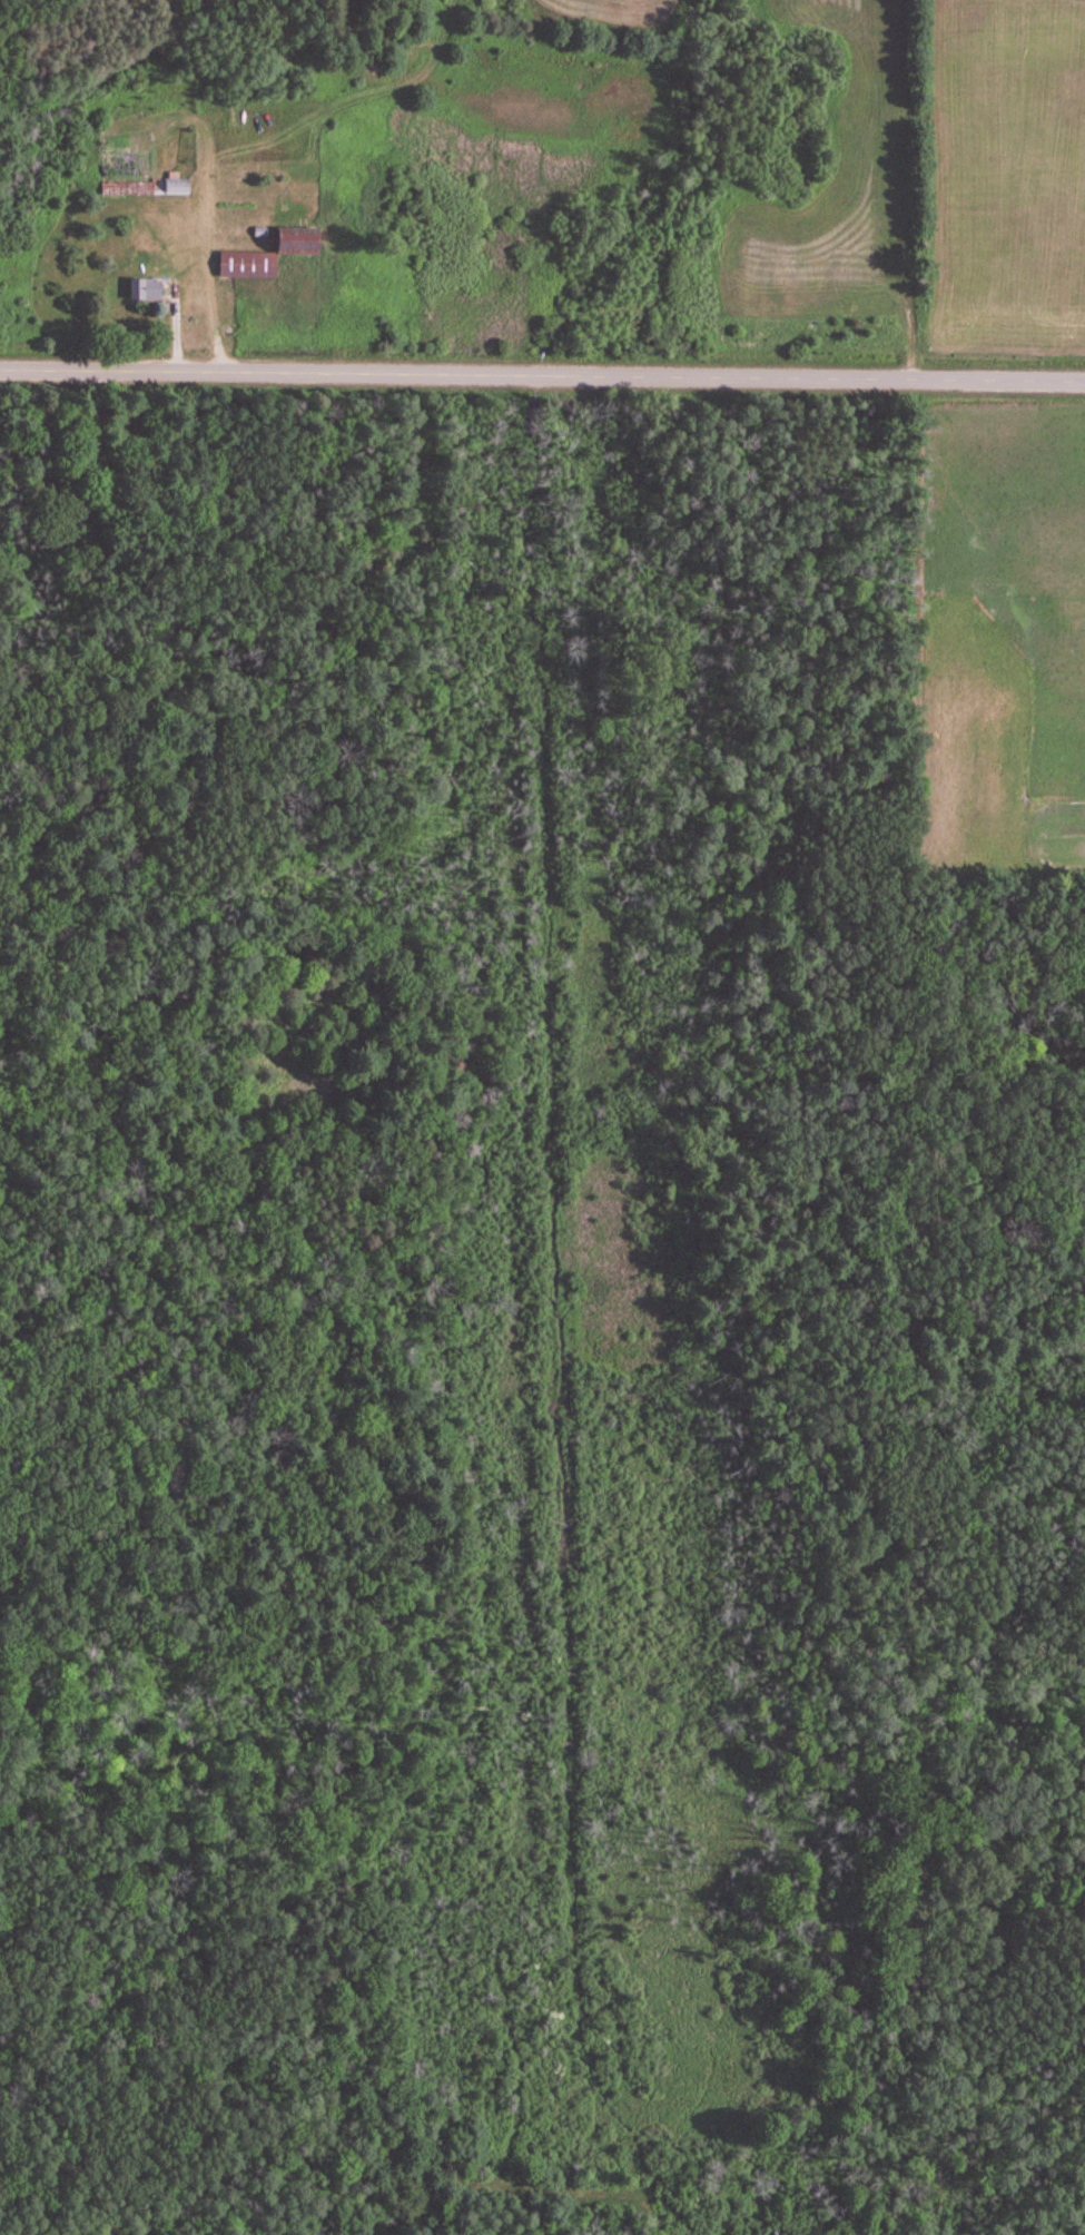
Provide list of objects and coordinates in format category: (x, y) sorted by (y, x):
building: (167, 187)
building: (245, 265)
building: (141, 288)
road: (542, 373)

